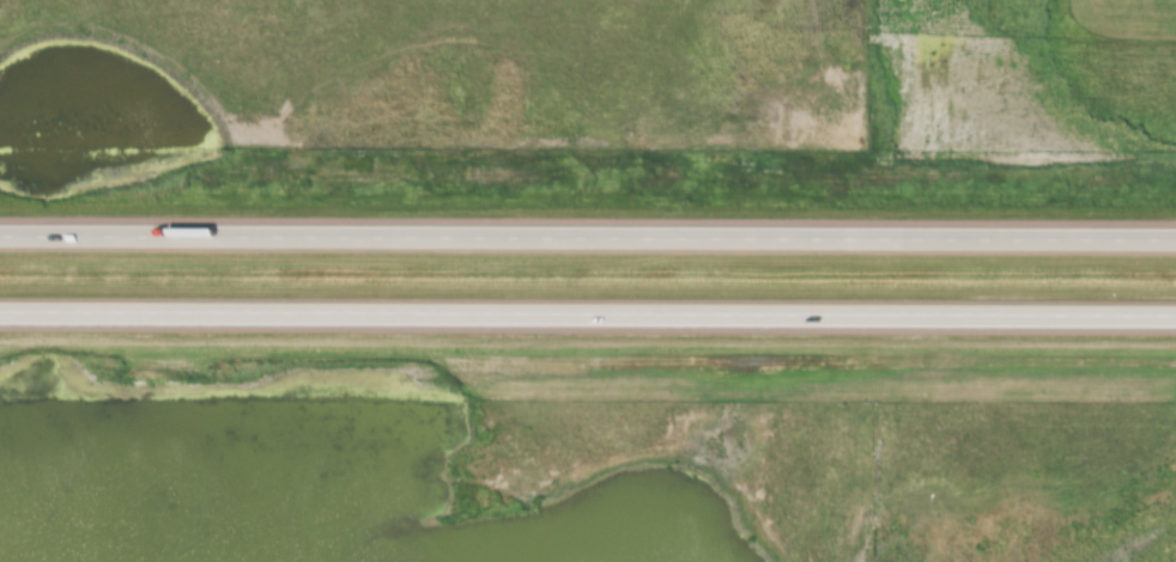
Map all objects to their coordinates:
road: (588, 242)
road: (588, 320)

